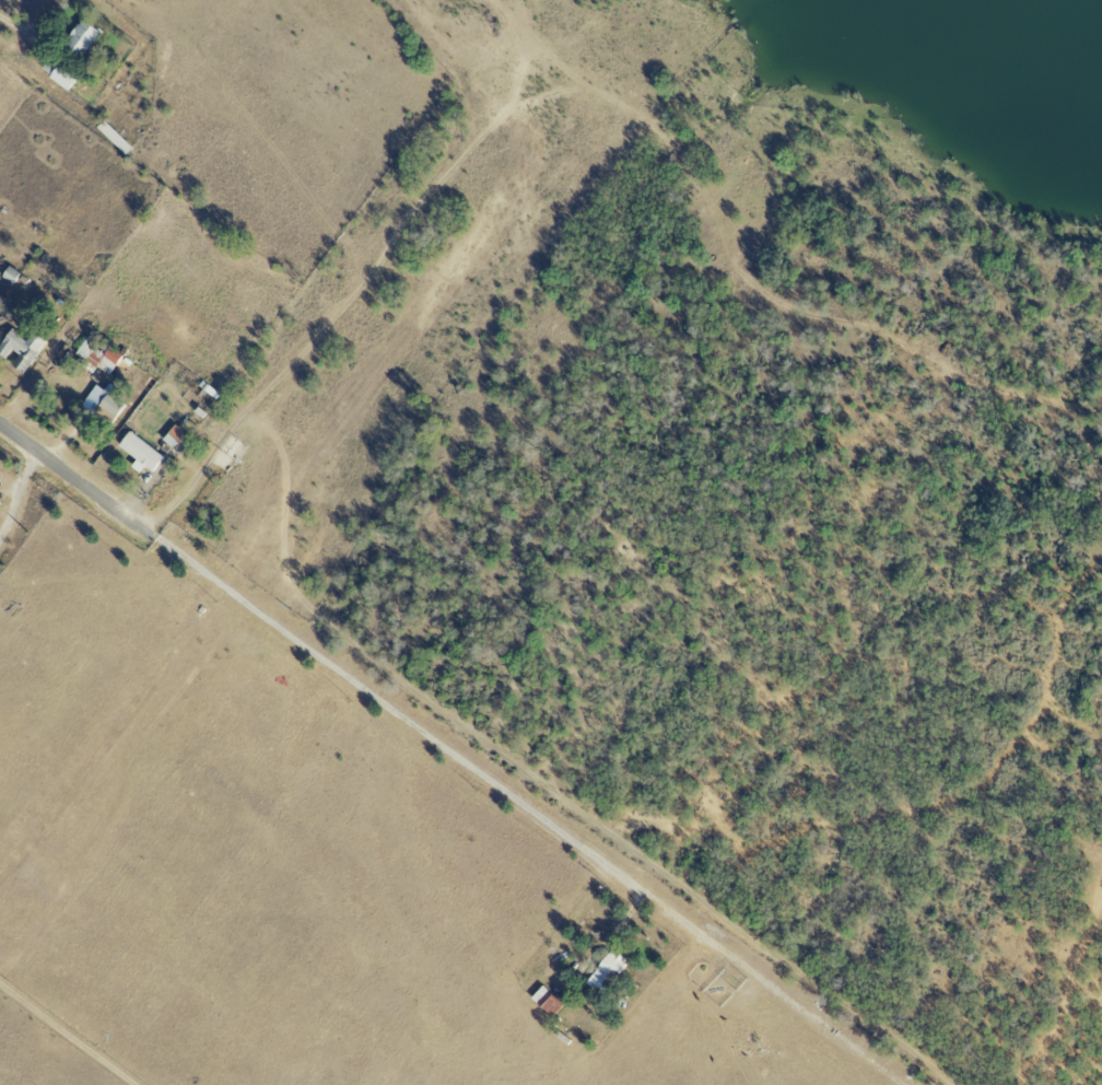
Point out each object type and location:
road: (14, 25)
building: (81, 38)
building: (60, 79)
building: (21, 349)
building: (97, 354)
building: (107, 402)
building: (140, 454)
road: (16, 492)
road: (452, 755)
building: (605, 972)
road: (67, 1035)

